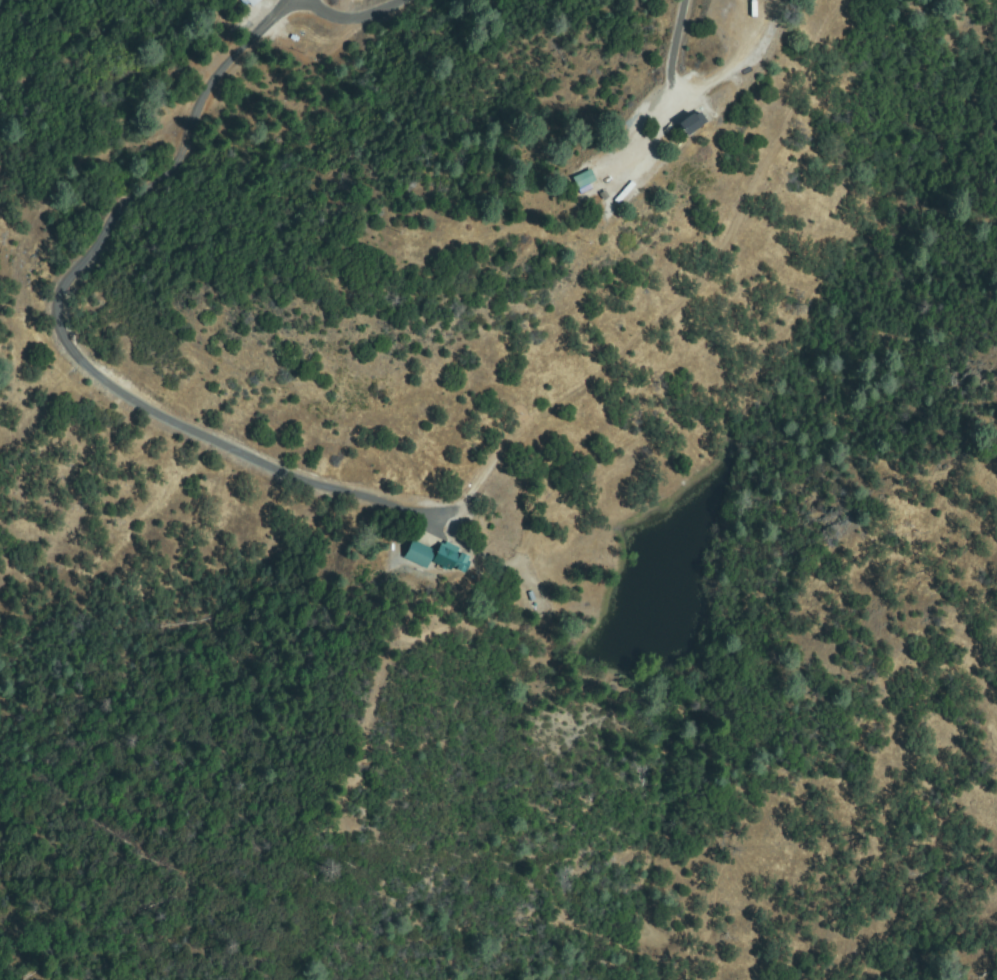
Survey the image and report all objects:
building: (250, 2)
road: (272, 19)
building: (586, 179)
building: (603, 180)
building: (625, 192)
road: (55, 291)
building: (419, 554)
building: (451, 558)

